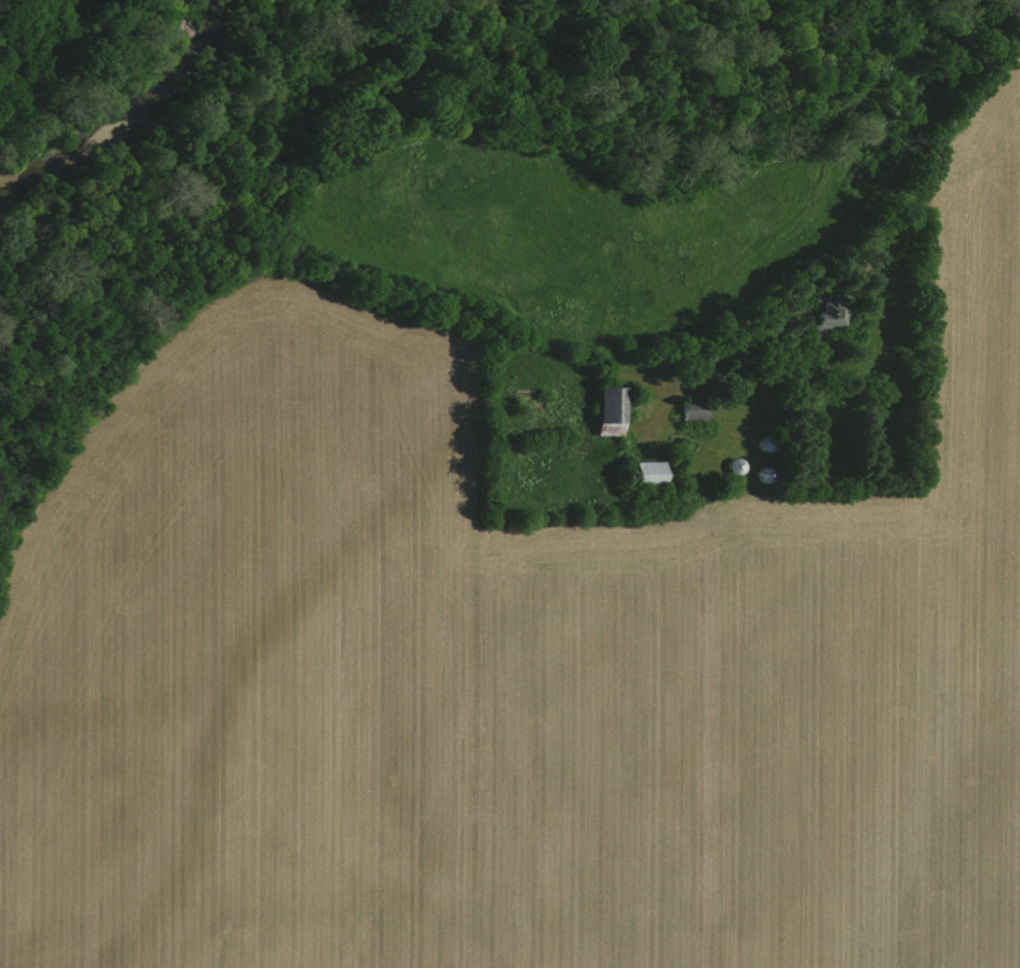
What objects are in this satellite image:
building: (827, 316)
building: (607, 411)
building: (693, 414)
building: (645, 473)

